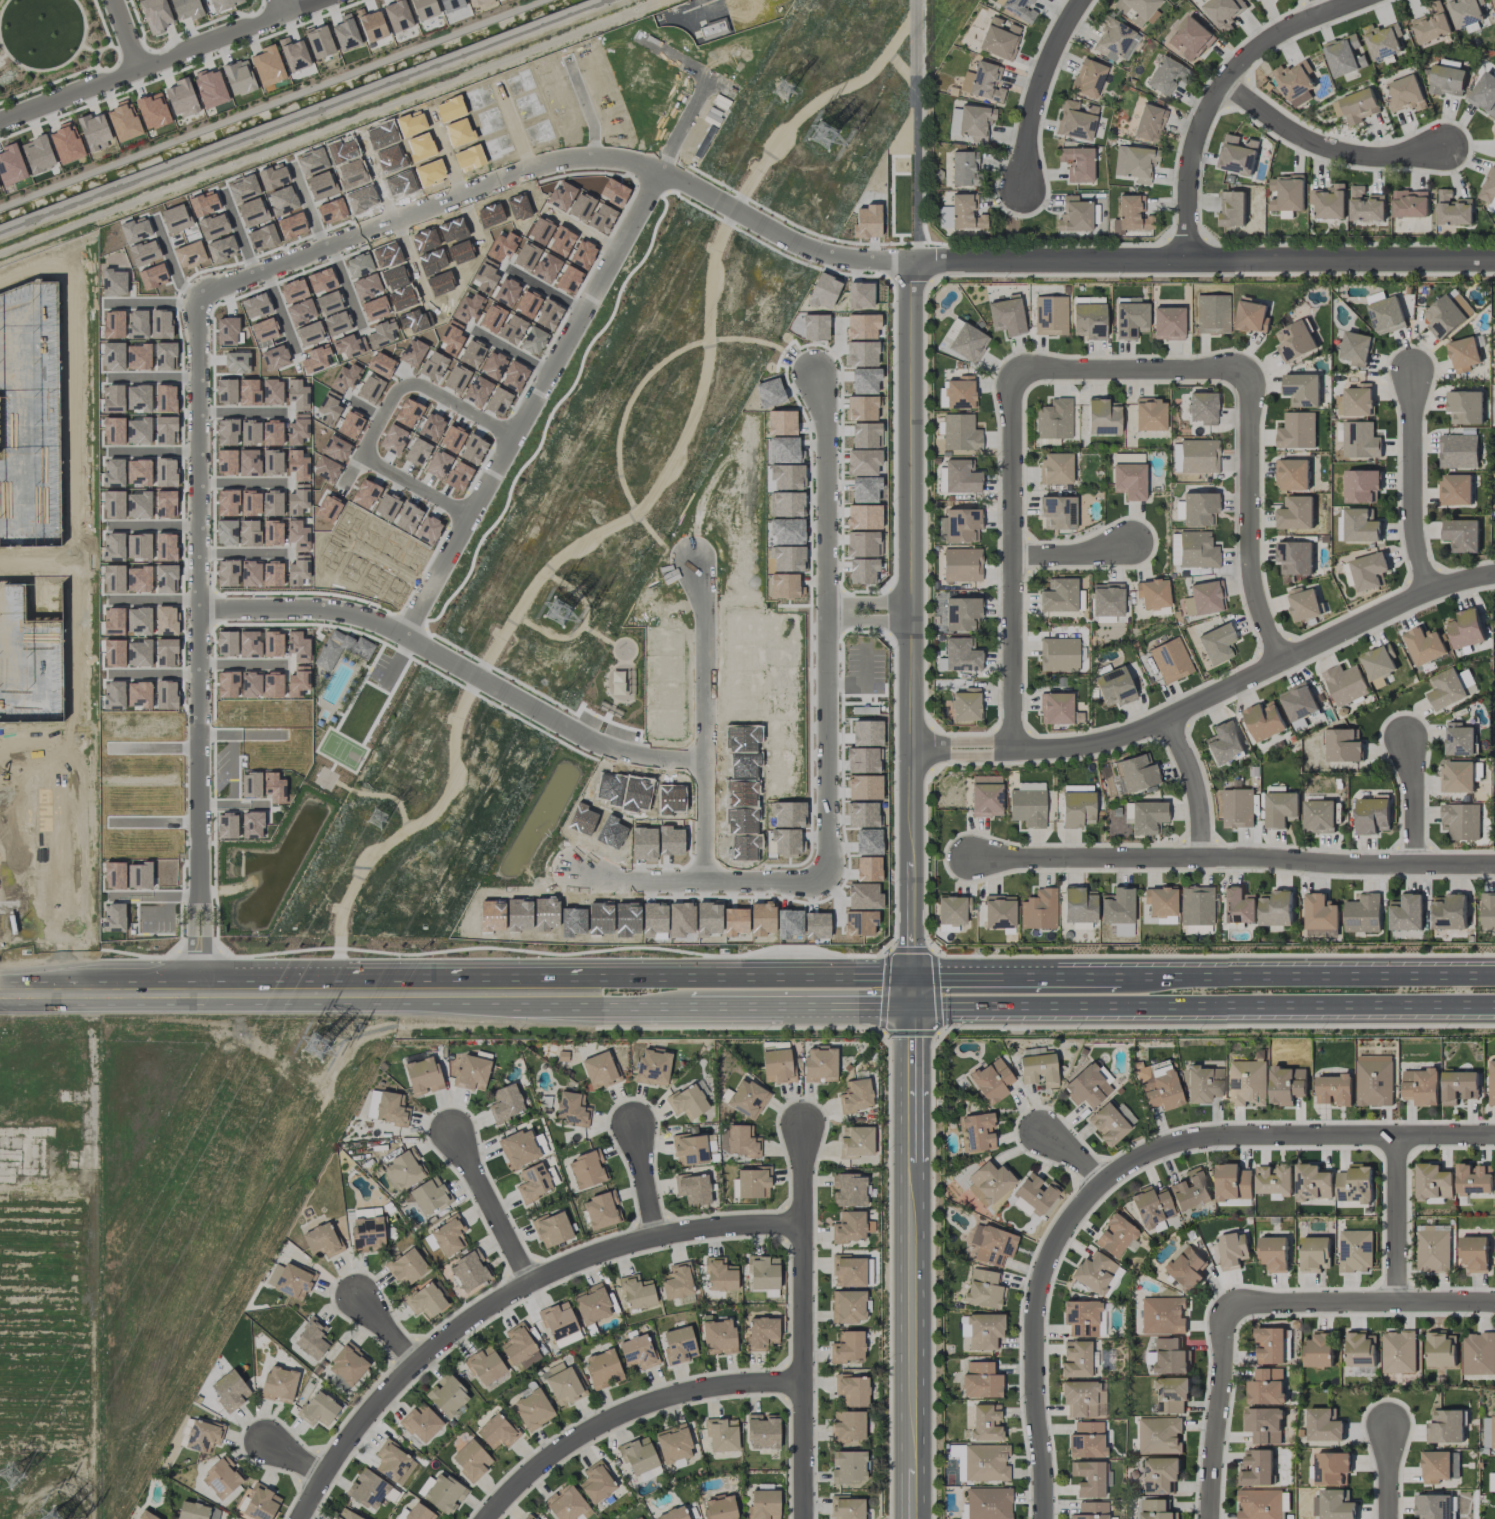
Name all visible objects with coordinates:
building: (1494, 3)
building: (224, 4)
building: (450, 5)
road: (1323, 6)
road: (3, 7)
building: (1015, 7)
road: (277, 8)
building: (186, 9)
building: (424, 9)
building: (1136, 9)
building: (1224, 11)
building: (1465, 12)
building: (156, 14)
building: (397, 15)
building: (371, 24)
building: (1431, 25)
building: (345, 32)
road: (124, 35)
building: (999, 38)
building: (1190, 39)
building: (1113, 40)
building: (319, 41)
building: (1383, 41)
park: (51, 45)
road: (89, 49)
road: (99, 52)
building: (293, 54)
road: (3, 55)
building: (1345, 55)
road: (160, 61)
road: (61, 65)
building: (268, 65)
road: (92, 67)
building: (1166, 75)
building: (238, 77)
building: (1088, 77)
road: (716, 80)
building: (986, 81)
building: (1447, 81)
building: (1296, 82)
road: (1036, 85)
building: (210, 88)
power tower: (788, 93)
building: (1407, 93)
road: (1218, 94)
building: (1484, 94)
building: (181, 97)
road: (585, 106)
building: (1357, 106)
building: (152, 110)
road: (304, 114)
road: (690, 114)
building: (123, 120)
building: (1075, 120)
building: (975, 121)
building: (1149, 121)
road: (514, 127)
building: (94, 131)
power tower: (826, 135)
building: (66, 143)
road: (1325, 147)
road: (445, 153)
building: (37, 154)
building: (1237, 155)
building: (1135, 162)
building: (1077, 163)
building: (11, 165)
road: (914, 169)
road: (375, 178)
building: (1488, 187)
building: (1287, 193)
building: (1329, 202)
road: (307, 204)
building: (1410, 204)
building: (1366, 206)
building: (1494, 206)
building: (1230, 208)
building: (1454, 209)
building: (965, 213)
building: (1074, 215)
building: (1130, 215)
road: (471, 221)
road: (582, 229)
road: (238, 231)
road: (1205, 261)
road: (411, 262)
road: (171, 263)
road: (230, 283)
road: (346, 286)
road: (547, 290)
road: (151, 303)
building: (1461, 304)
road: (280, 311)
building: (1212, 313)
building: (1050, 315)
building: (1007, 316)
building: (1252, 316)
building: (1386, 316)
building: (1443, 317)
building: (1130, 319)
building: (1088, 320)
building: (1168, 323)
building: (963, 340)
building: (1295, 341)
building: (1355, 348)
road: (511, 352)
building: (1463, 354)
road: (1132, 373)
road: (155, 377)
building: (1302, 389)
building: (960, 392)
building: (1358, 400)
road: (72, 403)
road: (536, 403)
building: (1202, 407)
building: (1465, 407)
road: (247, 412)
building: (1150, 414)
road: (381, 416)
building: (1102, 416)
building: (1054, 419)
building: (1297, 431)
building: (960, 432)
building: (1360, 440)
road: (157, 451)
building: (1458, 451)
building: (1199, 456)
building: (1055, 468)
road: (350, 470)
building: (1292, 475)
building: (960, 477)
building: (1129, 480)
road: (246, 483)
building: (1361, 485)
road: (1415, 486)
building: (1455, 490)
road: (698, 506)
road: (915, 506)
building: (1198, 508)
building: (1058, 512)
building: (1296, 513)
road: (1251, 521)
building: (962, 524)
building: (1361, 526)
road: (157, 527)
building: (1462, 535)
building: (1197, 550)
road: (1071, 551)
road: (247, 553)
building: (1295, 557)
road: (1014, 562)
building: (962, 564)
road: (393, 566)
building: (1368, 571)
building: (1152, 593)
building: (1059, 595)
road: (872, 598)
building: (1202, 598)
road: (157, 599)
building: (1107, 600)
building: (1304, 604)
power tower: (559, 613)
building: (961, 613)
road: (872, 618)
building: (1465, 629)
building: (1216, 643)
building: (1424, 645)
building: (961, 654)
building: (1058, 654)
building: (1170, 660)
road: (705, 661)
building: (1379, 662)
road: (247, 664)
road: (155, 674)
road: (76, 682)
building: (1467, 682)
building: (1345, 684)
building: (1114, 687)
building: (1446, 689)
road: (1212, 696)
building: (1298, 702)
building: (965, 704)
building: (1055, 708)
building: (1265, 720)
building: (867, 733)
road: (248, 734)
building: (1459, 739)
building: (1223, 742)
building: (1343, 746)
road: (154, 747)
building: (784, 758)
building: (861, 759)
building: (744, 765)
road: (42, 768)
building: (1135, 773)
building: (1457, 777)
road: (1196, 784)
building: (785, 786)
building: (864, 787)
building: (740, 793)
building: (986, 795)
road: (1417, 800)
road: (236, 805)
building: (1027, 807)
building: (1236, 808)
building: (1076, 809)
building: (1281, 809)
building: (788, 814)
building: (862, 814)
building: (1373, 815)
building: (1144, 816)
building: (1319, 816)
building: (740, 820)
road: (155, 821)
power tower: (379, 821)
building: (1461, 821)
road: (13, 840)
building: (786, 841)
building: (867, 841)
building: (742, 847)
road: (7, 854)
road: (1236, 857)
road: (708, 861)
road: (912, 862)
building: (868, 869)
road: (642, 875)
road: (86, 880)
road: (160, 896)
building: (864, 896)
building: (1160, 901)
building: (1079, 905)
building: (1196, 905)
building: (1238, 905)
building: (1117, 906)
building: (1276, 908)
building: (1039, 909)
building: (999, 911)
building: (950, 912)
building: (1488, 912)
building: (1406, 913)
building: (1450, 913)
building: (1362, 914)
building: (1321, 915)
building: (1165, 920)
building: (789, 923)
building: (858, 923)
building: (816, 925)
road: (1311, 974)
road: (1019, 975)
road: (739, 976)
traffic signals: (911, 977)
road: (284, 991)
road: (911, 993)
road: (799, 1010)
road: (1203, 1010)
road: (625, 1011)
power tower: (318, 1047)
building: (776, 1065)
building: (820, 1065)
building: (652, 1066)
building: (599, 1069)
building: (1038, 1069)
building: (471, 1072)
building: (423, 1075)
building: (1374, 1080)
building: (991, 1081)
building: (1204, 1083)
building: (1247, 1083)
building: (1491, 1083)
building: (1158, 1084)
building: (1286, 1085)
building: (1087, 1086)
building: (1420, 1086)
building: (1459, 1087)
building: (1334, 1090)
building: (856, 1096)
building: (747, 1098)
building: (687, 1101)
building: (505, 1103)
building: (391, 1108)
building: (571, 1108)
building: (1111, 1122)
building: (977, 1132)
building: (741, 1141)
building: (856, 1141)
building: (519, 1147)
building: (690, 1149)
road: (1074, 1155)
road: (1121, 1168)
building: (586, 1169)
building: (403, 1170)
building: (1473, 1179)
road: (647, 1181)
building: (990, 1181)
building: (1274, 1181)
building: (533, 1182)
building: (753, 1182)
building: (1433, 1182)
building: (1233, 1183)
building: (1313, 1183)
building: (1355, 1184)
building: (693, 1188)
building: (848, 1189)
building: (1190, 1189)
building: (1036, 1192)
building: (429, 1195)
road: (494, 1206)
building: (1151, 1206)
building: (601, 1210)
road: (1398, 1221)
building: (850, 1227)
building: (552, 1229)
building: (367, 1234)
building: (449, 1235)
building: (1116, 1235)
building: (321, 1240)
building: (991, 1244)
building: (1433, 1249)
building: (1232, 1250)
building: (1355, 1251)
building: (1274, 1253)
building: (1474, 1253)
building: (1314, 1254)
road: (912, 1264)
building: (407, 1267)
building: (1185, 1268)
building: (469, 1270)
building: (848, 1270)
building: (763, 1272)
building: (1094, 1272)
building: (720, 1274)
building: (289, 1280)
building: (677, 1281)
building: (982, 1289)
building: (636, 1291)
road: (508, 1296)
building: (426, 1300)
building: (591, 1304)
road: (1361, 1305)
building: (847, 1306)
building: (1162, 1315)
building: (1083, 1318)
building: (558, 1320)
road: (804, 1321)
road: (387, 1329)
building: (984, 1330)
building: (761, 1333)
building: (718, 1337)
building: (312, 1339)
building: (678, 1344)
building: (1270, 1345)
building: (519, 1347)
building: (847, 1347)
building: (1360, 1349)
building: (1319, 1350)
building: (1441, 1350)
building: (637, 1351)
building: (1398, 1352)
building: (1478, 1354)
building: (1169, 1356)
building: (1076, 1359)
building: (348, 1364)
building: (485, 1365)
building: (602, 1368)
building: (980, 1380)
building: (562, 1383)
building: (279, 1384)
building: (1266, 1387)
building: (230, 1389)
building: (852, 1389)
building: (1170, 1394)
building: (447, 1395)
building: (1083, 1399)
building: (318, 1409)
building: (533, 1409)
road: (1219, 1412)
road: (628, 1413)
building: (985, 1422)
building: (421, 1423)
building: (1264, 1425)
building: (848, 1426)
building: (1324, 1426)
building: (1445, 1427)
building: (496, 1431)
building: (762, 1431)
building: (1493, 1431)
building: (721, 1434)
building: (203, 1435)
building: (1159, 1435)
building: (1086, 1440)
building: (673, 1443)
building: (638, 1455)
road: (296, 1457)
building: (471, 1459)
building: (393, 1462)
building: (985, 1462)
building: (1454, 1465)
building: (848, 1466)
building: (1435, 1467)
building: (1256, 1468)
building: (1332, 1468)
building: (1160, 1474)
road: (1389, 1474)
power tower: (14, 1478)
building: (221, 1478)
building: (1089, 1478)
building: (597, 1482)
building: (1492, 1483)
building: (367, 1489)
building: (444, 1492)
building: (260, 1503)
building: (566, 1503)
building: (988, 1503)
building: (763, 1504)
building: (1259, 1504)
building: (1333, 1505)
building: (1433, 1506)
building: (719, 1507)
building: (846, 1507)
building: (1155, 1509)
building: (1091, 1510)
building: (192, 1511)
building: (674, 1514)
building: (145, 1515)
building: (346, 1515)
building: (526, 1517)

